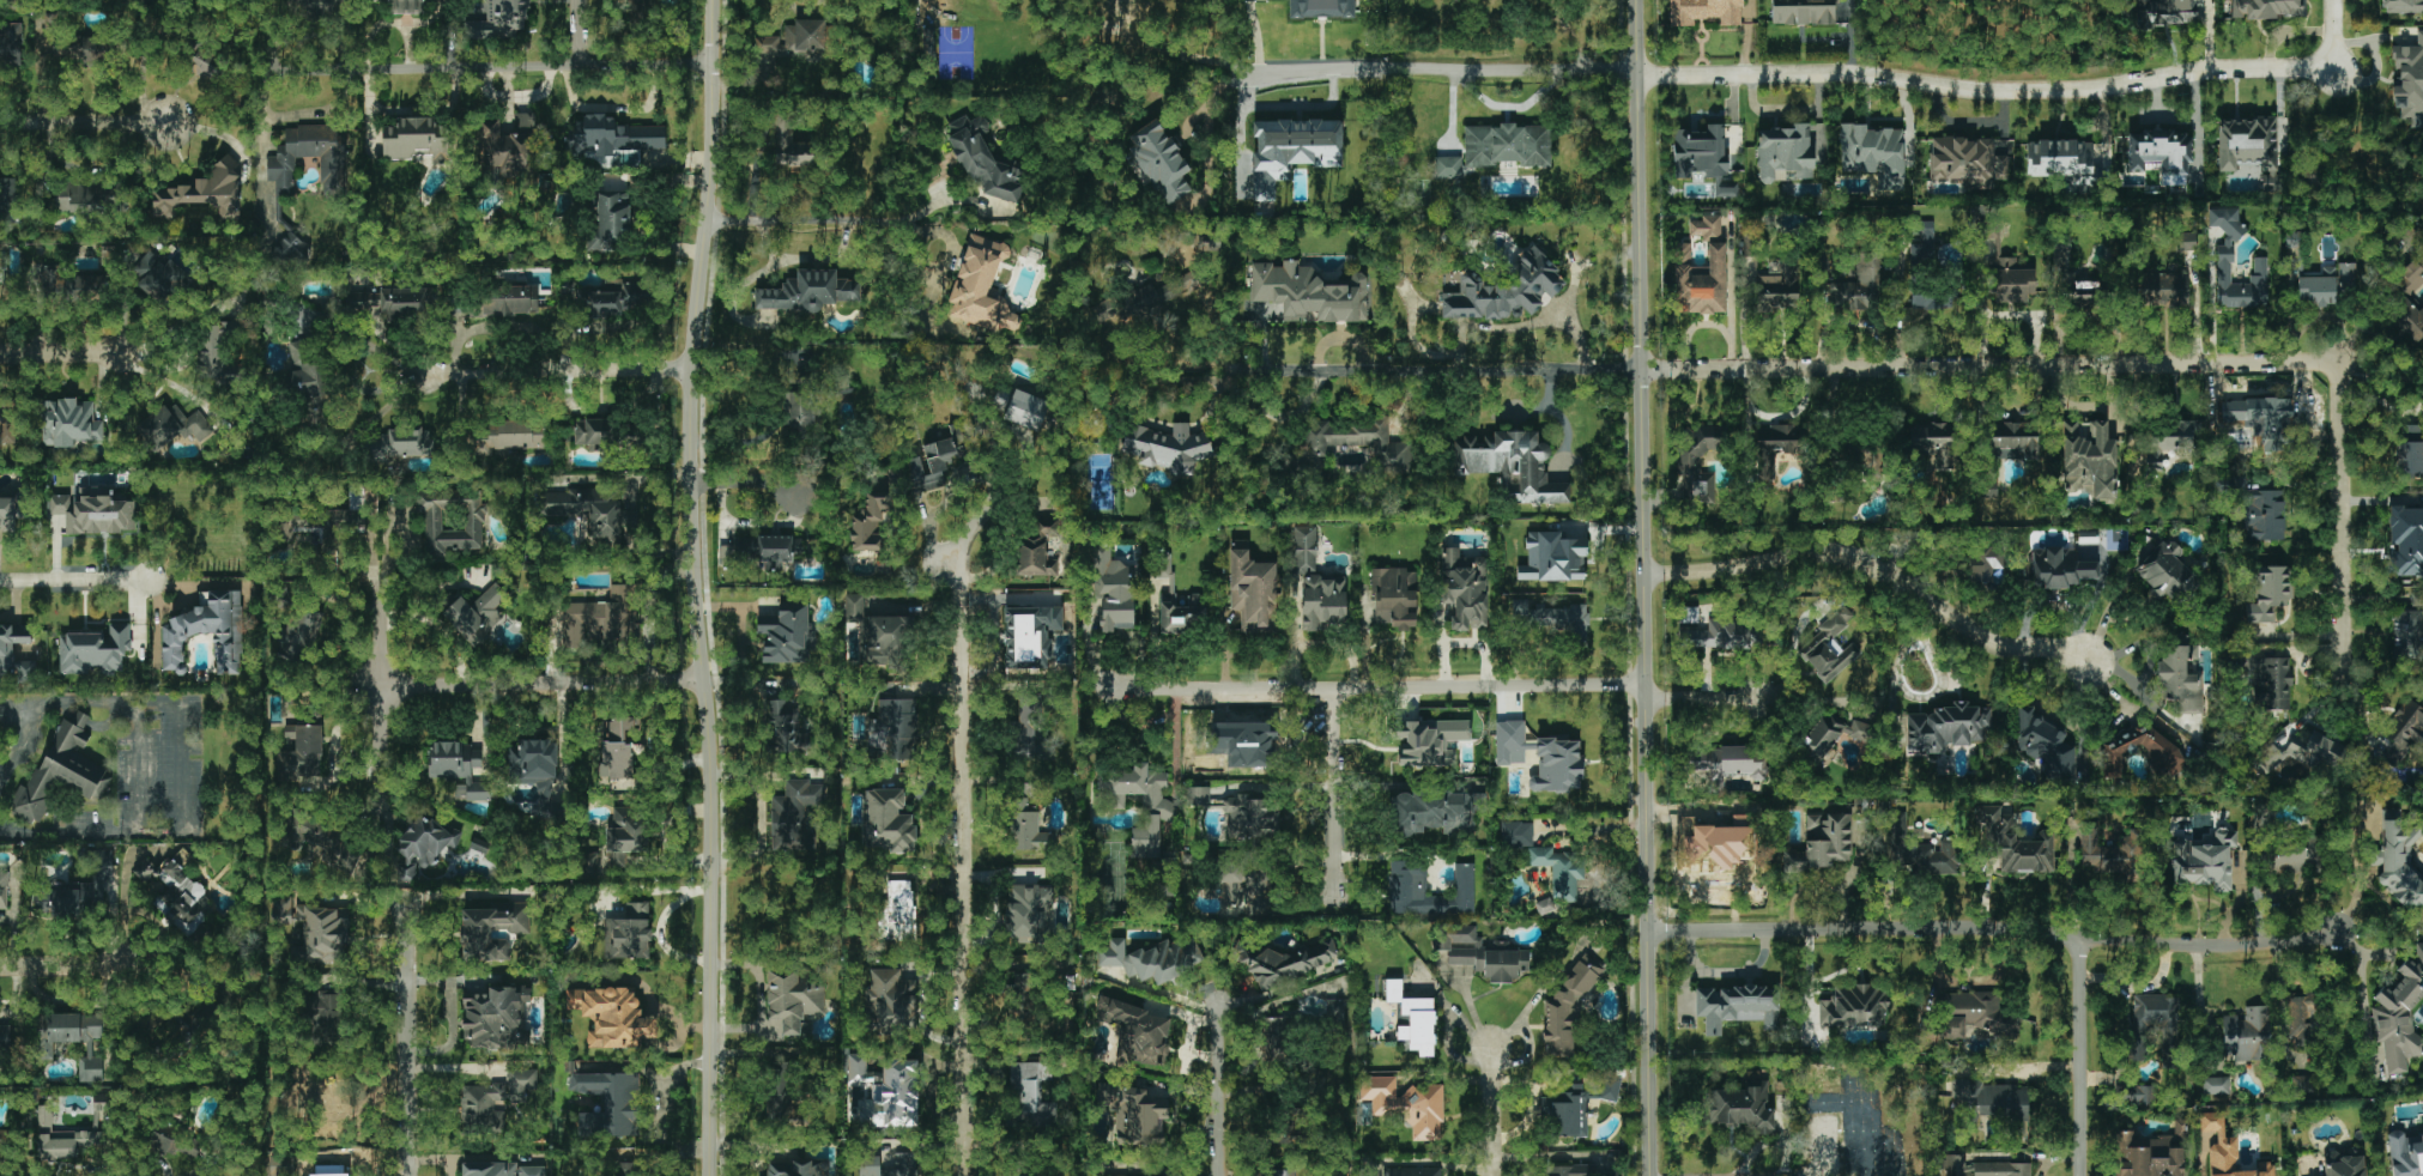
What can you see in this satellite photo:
building: (407, 6)
building: (2403, 6)
building: (1321, 8)
building: (2266, 8)
building: (1127, 10)
building: (641, 11)
building: (1704, 11)
building: (1803, 12)
building: (2165, 12)
building: (50, 20)
building: (498, 20)
road: (579, 34)
road: (1254, 36)
building: (796, 38)
building: (11, 40)
building: (91, 49)
road: (1188, 55)
building: (206, 65)
road: (535, 67)
road: (1448, 71)
building: (2409, 81)
road: (2019, 91)
road: (83, 121)
road: (1241, 128)
building: (611, 137)
building: (418, 140)
building: (2247, 141)
building: (789, 144)
building: (1507, 145)
building: (507, 147)
building: (1291, 151)
building: (1701, 152)
building: (1786, 153)
building: (1873, 153)
building: (2161, 154)
building: (2059, 157)
building: (983, 160)
building: (1159, 162)
building: (1967, 162)
building: (1448, 166)
building: (280, 169)
building: (1726, 189)
building: (202, 192)
building: (8, 195)
building: (79, 198)
road: (814, 222)
building: (611, 223)
building: (1707, 226)
building: (2185, 241)
building: (1922, 243)
building: (289, 251)
building: (2003, 268)
building: (2259, 269)
building: (159, 278)
building: (2410, 278)
building: (2073, 280)
building: (1700, 281)
building: (73, 284)
building: (2326, 284)
building: (1858, 286)
building: (982, 287)
building: (1504, 289)
road: (1730, 289)
building: (1779, 289)
building: (2164, 289)
building: (808, 292)
building: (1308, 293)
building: (616, 298)
building: (1932, 298)
building: (510, 299)
building: (392, 302)
road: (2198, 309)
building: (2406, 314)
road: (1695, 325)
building: (217, 351)
road: (80, 357)
road: (1991, 364)
road: (1394, 366)
road: (2380, 370)
road: (557, 371)
building: (308, 372)
building: (799, 408)
building: (1020, 408)
road: (1559, 417)
building: (7, 423)
building: (69, 423)
building: (2258, 428)
building: (2410, 429)
building: (610, 435)
building: (2013, 437)
building: (2165, 441)
building: (1358, 442)
building: (402, 443)
building: (1933, 443)
building: (1167, 447)
building: (1776, 447)
building: (2088, 459)
building: (2409, 459)
building: (1698, 460)
building: (937, 461)
building: (1510, 465)
road: (746, 483)
building: (1988, 485)
building: (96, 510)
road: (986, 510)
road: (2339, 513)
building: (593, 514)
building: (7, 515)
building: (2264, 516)
building: (449, 520)
building: (325, 523)
building: (870, 523)
building: (2406, 540)
building: (757, 550)
building: (1037, 550)
building: (1304, 550)
building: (1552, 558)
building: (1987, 564)
road: (1874, 566)
building: (2061, 568)
building: (2167, 574)
road: (74, 580)
road: (692, 587)
building: (1465, 588)
road: (1646, 588)
building: (1114, 592)
building: (2266, 592)
building: (1167, 593)
building: (1394, 598)
building: (1321, 601)
building: (475, 614)
building: (601, 617)
road: (2107, 617)
building: (1552, 618)
building: (207, 632)
building: (299, 632)
road: (381, 634)
building: (2407, 634)
building: (787, 635)
building: (878, 635)
building: (1030, 635)
building: (1719, 635)
road: (2138, 644)
building: (1830, 645)
building: (95, 650)
building: (6, 651)
building: (2181, 679)
road: (543, 680)
building: (2271, 683)
road: (1376, 687)
road: (2142, 691)
road: (1702, 698)
building: (783, 726)
building: (1028, 727)
building: (1946, 727)
building: (2404, 731)
building: (1831, 735)
building: (1429, 741)
building: (1244, 742)
building: (2045, 744)
building: (617, 747)
road: (381, 750)
road: (20, 753)
building: (301, 754)
building: (1540, 758)
building: (2164, 762)
building: (1730, 764)
road: (180, 766)
road: (5, 769)
building: (458, 769)
building: (62, 770)
road: (140, 770)
building: (537, 774)
road: (1337, 792)
building: (1198, 795)
building: (1432, 812)
building: (793, 814)
building: (1158, 814)
building: (1252, 817)
building: (889, 820)
building: (1028, 828)
road: (1594, 829)
building: (628, 830)
building: (1510, 835)
building: (325, 843)
building: (1822, 843)
building: (2013, 843)
building: (424, 844)
building: (479, 844)
building: (1918, 849)
building: (2108, 850)
building: (2296, 856)
building: (2203, 859)
building: (2397, 860)
road: (963, 863)
building: (1559, 871)
building: (1407, 879)
building: (78, 889)
building: (4, 890)
building: (177, 896)
building: (1545, 908)
building: (281, 910)
building: (896, 913)
building: (1029, 913)
road: (2007, 928)
building: (492, 931)
building: (628, 933)
building: (322, 934)
building: (1483, 953)
building: (1152, 959)
building: (1289, 963)
road: (63, 965)
road: (1279, 989)
road: (1540, 993)
building: (793, 1001)
building: (1854, 1006)
building: (1737, 1007)
building: (1568, 1008)
building: (1334, 1014)
building: (1976, 1014)
building: (326, 1017)
building: (613, 1017)
building: (2399, 1017)
building: (497, 1018)
building: (1413, 1019)
building: (2302, 1020)
building: (2154, 1022)
building: (1139, 1030)
building: (2246, 1035)
building: (5, 1037)
building: (1274, 1037)
building: (73, 1038)
road: (408, 1042)
road: (1526, 1055)
road: (2080, 1056)
building: (860, 1069)
road: (2028, 1069)
building: (2302, 1084)
building: (2216, 1085)
road: (1219, 1087)
building: (1032, 1092)
building: (496, 1095)
building: (2134, 1095)
building: (780, 1096)
building: (892, 1096)
building: (103, 1102)
building: (1994, 1102)
building: (610, 1103)
building: (1406, 1104)
building: (1575, 1107)
building: (1743, 1107)
building: (333, 1109)
road: (1492, 1111)
building: (1134, 1114)
building: (2422, 1125)
building: (61, 1138)
building: (175, 1142)
building: (1, 1147)
building: (2228, 1151)
building: (2151, 1153)
building: (2405, 1154)
building: (870, 1163)
road: (1440, 1164)
building: (2344, 1165)
building: (281, 1166)
building: (1956, 1166)
building: (796, 1168)
road: (1755, 1168)
building: (504, 1169)
building: (2001, 1169)
building: (329, 1170)
building: (620, 1170)
building: (1569, 1170)
building: (1412, 1171)
building: (1284, 1172)
building: (1104, 1175)

